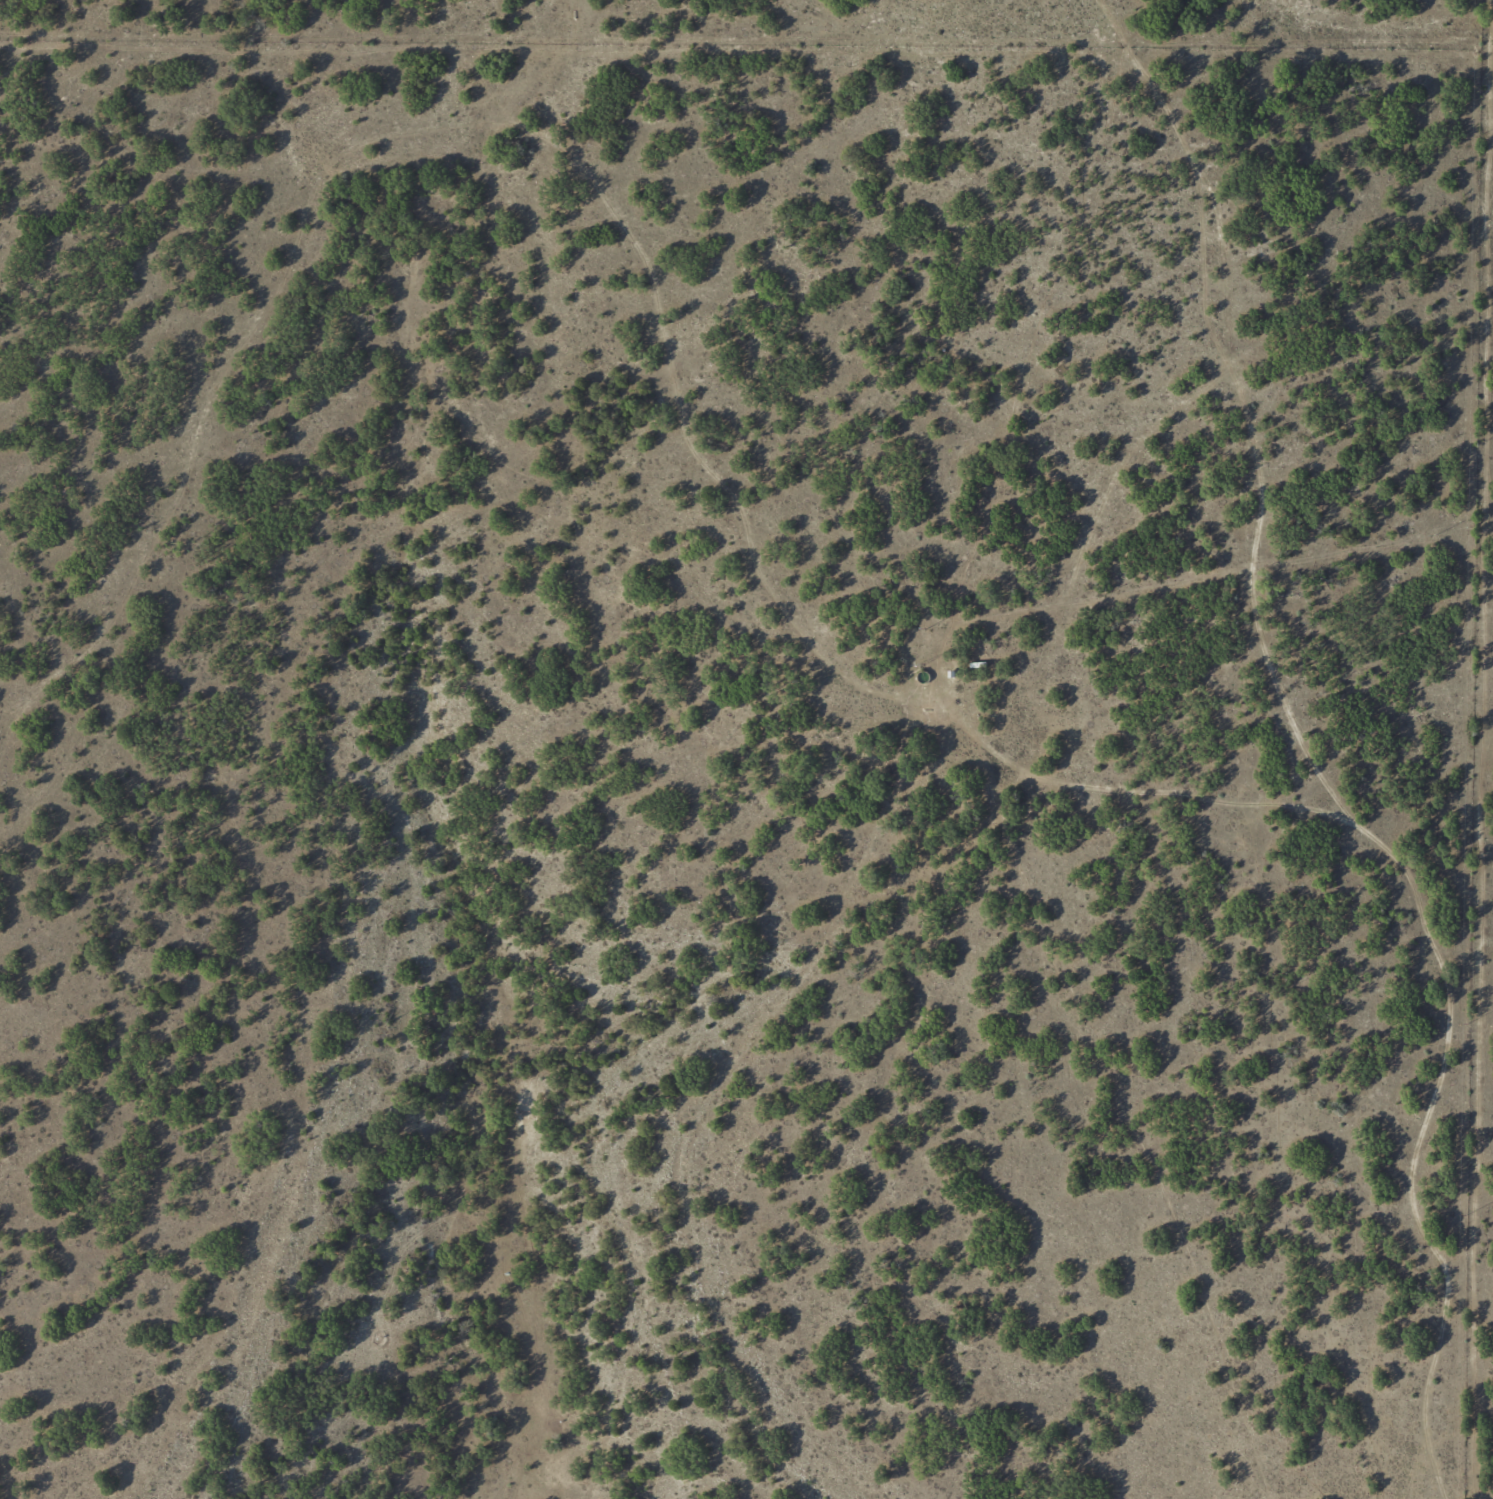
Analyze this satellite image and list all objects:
road: (1231, 420)
road: (726, 554)

